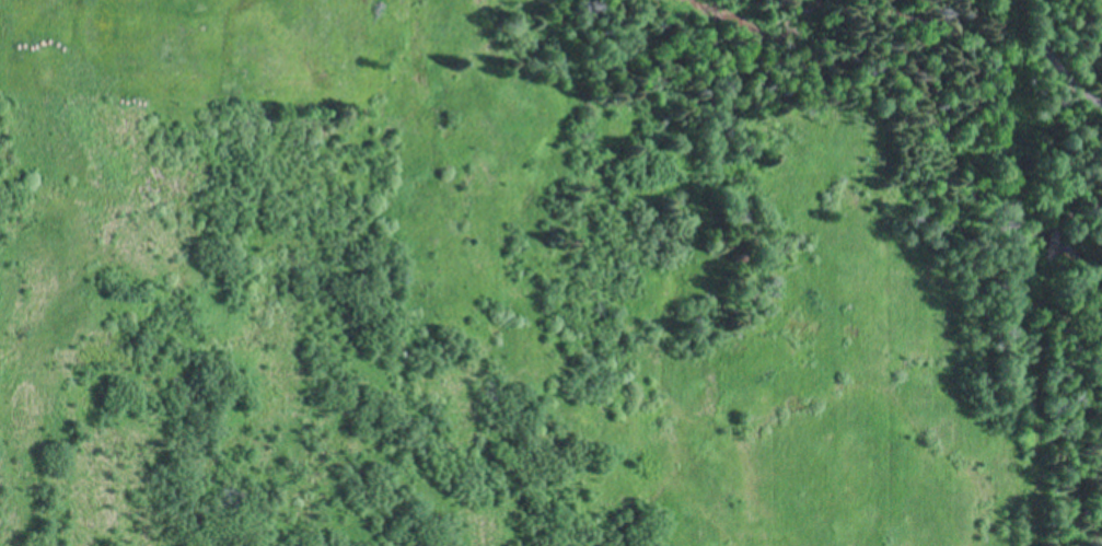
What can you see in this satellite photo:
road: (1057, 60)

